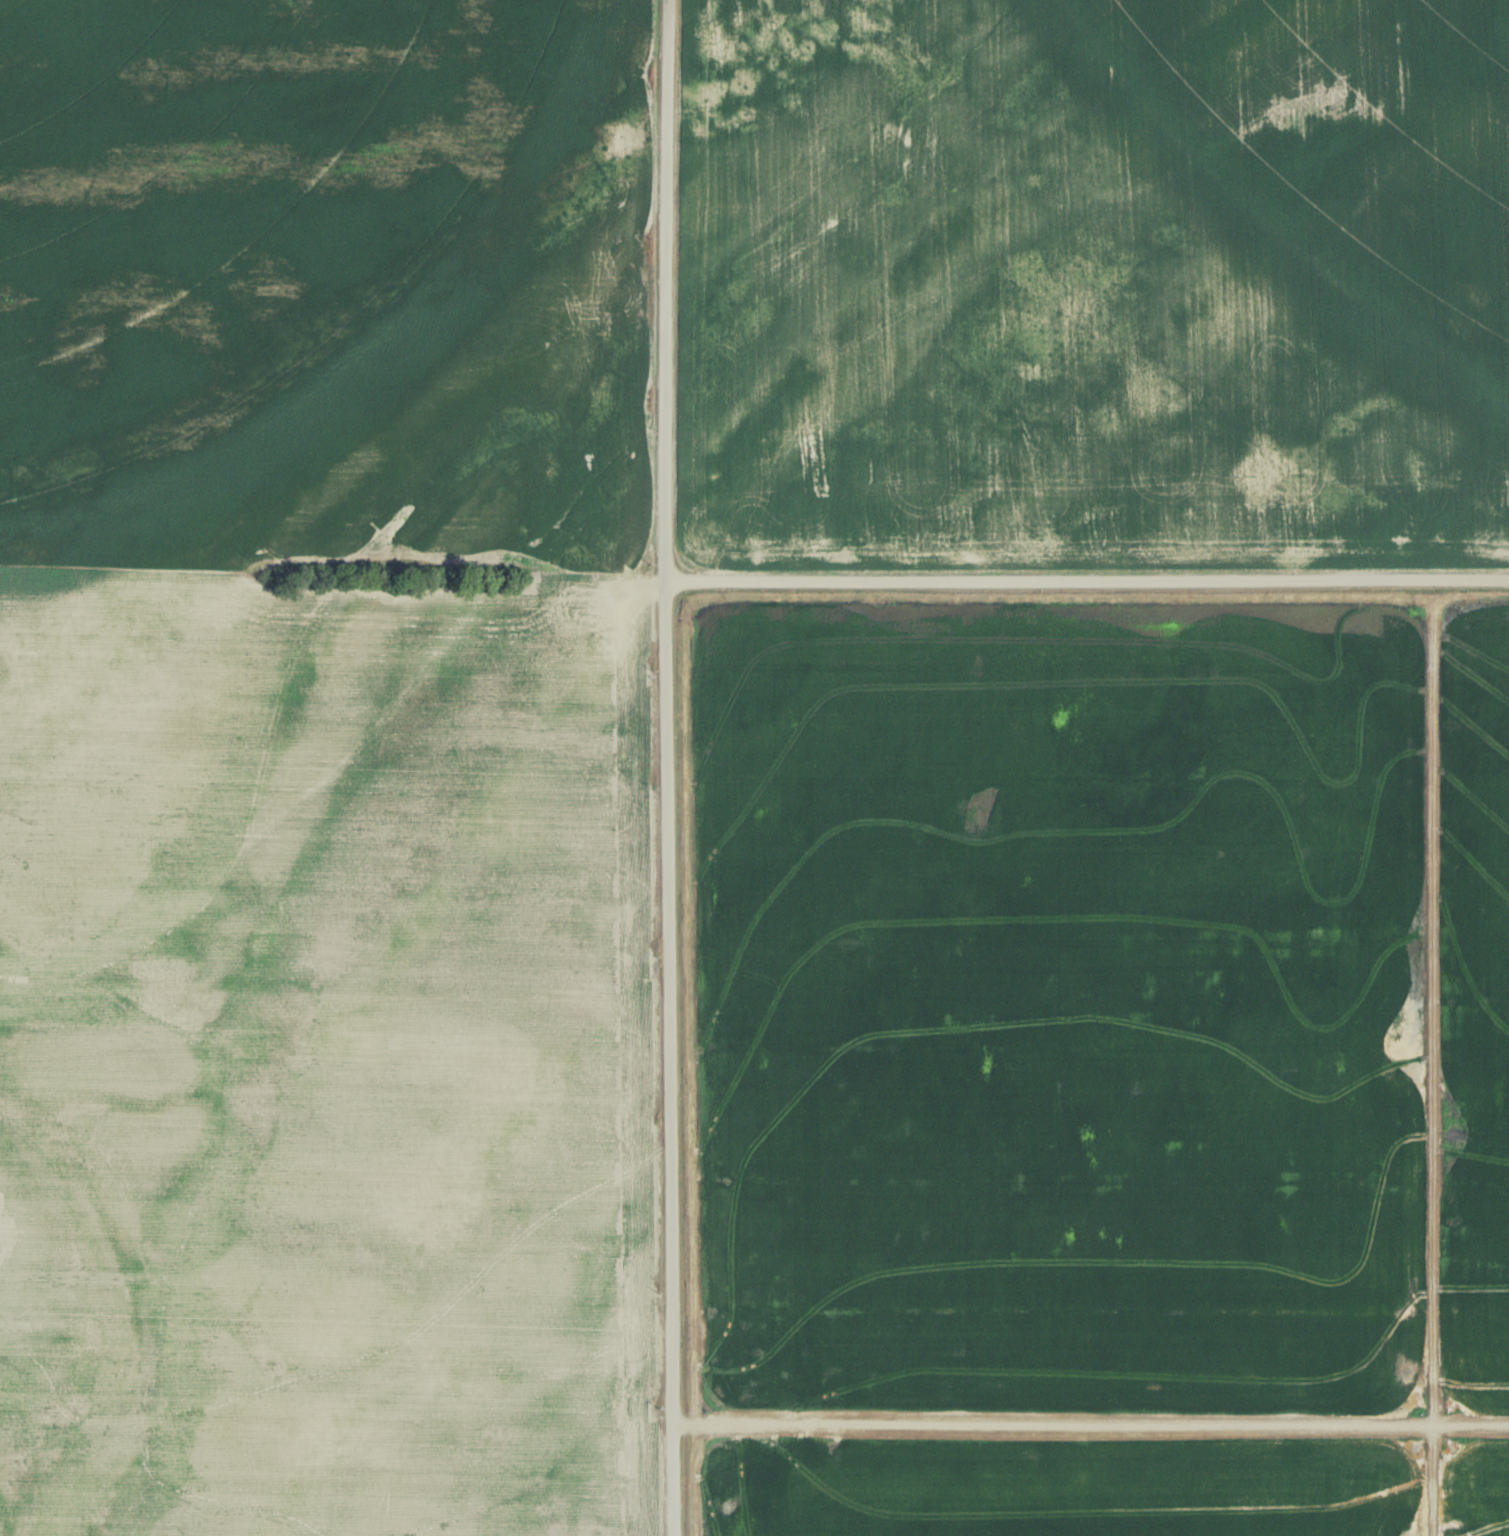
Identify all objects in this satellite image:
road: (1093, 592)
road: (677, 768)

